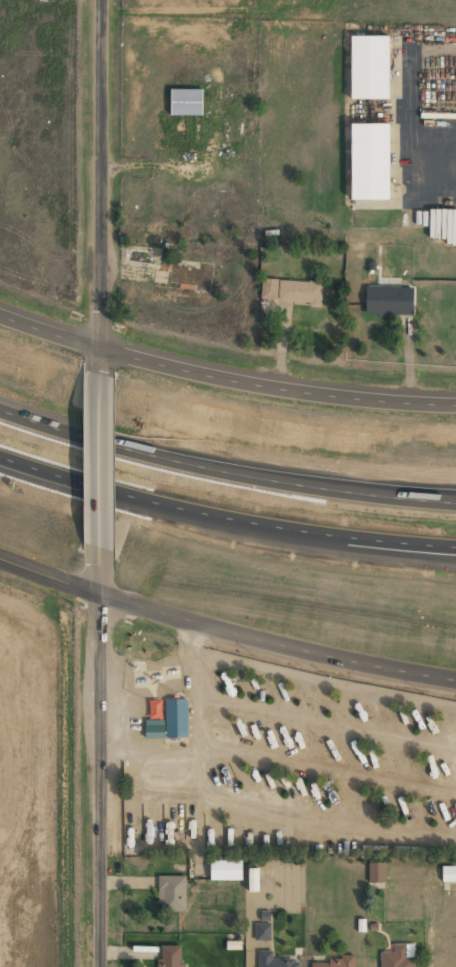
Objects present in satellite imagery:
building: (369, 67)
building: (185, 101)
building: (369, 161)
road: (99, 173)
building: (291, 291)
building: (388, 300)
road: (99, 360)
road: (224, 377)
road: (99, 461)
road: (225, 479)
road: (135, 497)
road: (364, 537)
road: (364, 544)
road: (99, 571)
road: (49, 576)
road: (275, 646)
park: (149, 667)
road: (151, 670)
road: (162, 678)
building: (154, 709)
parking lot: (125, 714)
building: (174, 717)
building: (152, 722)
building: (153, 731)
road: (99, 780)
building: (225, 870)
building: (376, 872)
building: (448, 873)
building: (253, 879)
building: (171, 893)
building: (262, 931)
building: (169, 956)
building: (398, 956)
building: (274, 960)
building: (337, 962)

